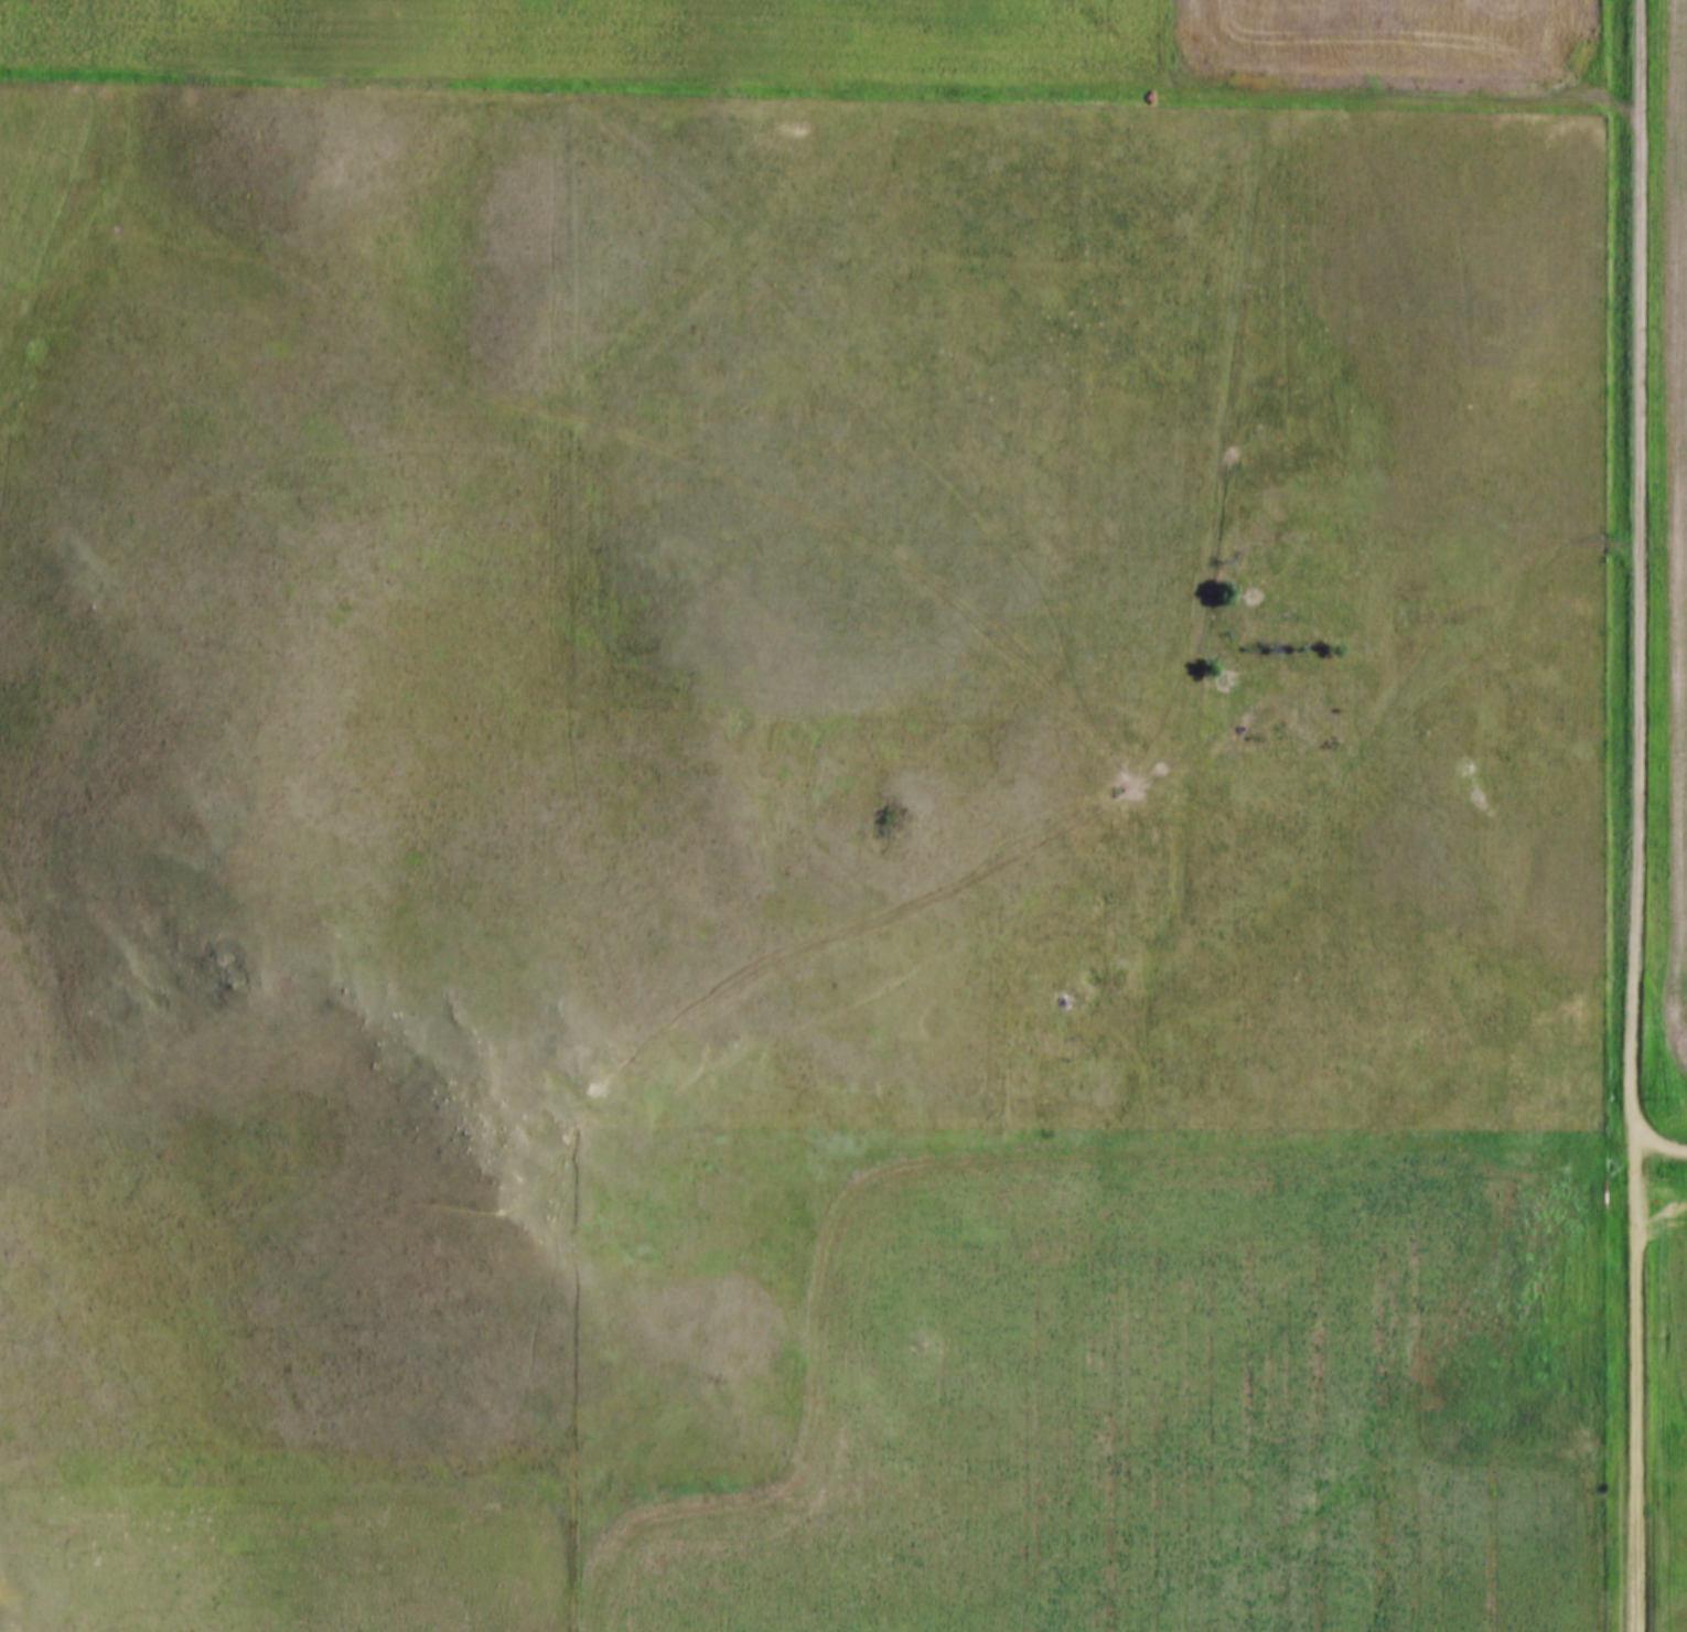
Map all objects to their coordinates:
road: (1637, 578)
road: (1662, 1157)
road: (1638, 1394)

